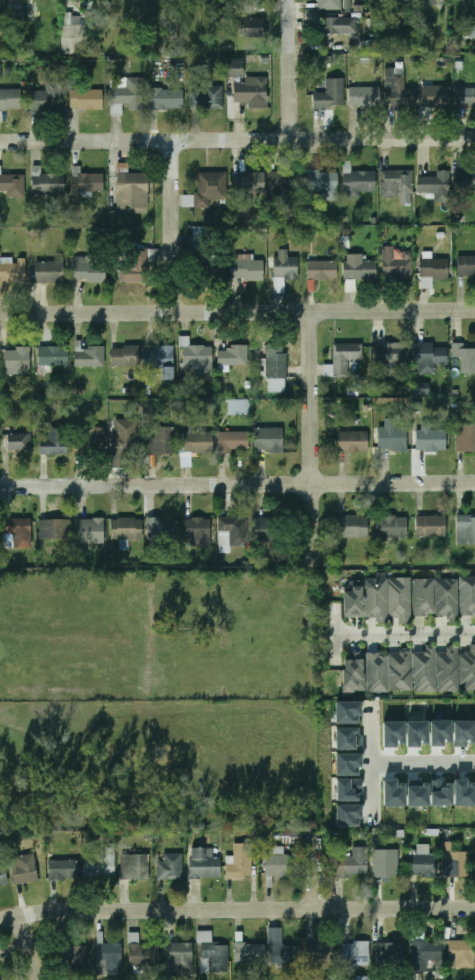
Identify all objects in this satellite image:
building: (431, 2)
building: (329, 4)
building: (15, 5)
building: (245, 6)
building: (1, 25)
building: (338, 25)
building: (253, 27)
building: (469, 31)
building: (73, 36)
building: (392, 41)
building: (362, 47)
road: (292, 66)
building: (235, 69)
building: (127, 91)
building: (252, 91)
building: (400, 91)
building: (331, 94)
building: (437, 95)
building: (365, 96)
building: (466, 96)
building: (48, 97)
building: (210, 98)
building: (10, 99)
building: (87, 99)
building: (166, 99)
road: (237, 133)
building: (465, 180)
building: (358, 181)
building: (250, 182)
building: (286, 182)
building: (47, 183)
building: (89, 183)
building: (323, 183)
building: (397, 183)
building: (432, 184)
building: (13, 185)
building: (212, 189)
building: (131, 190)
road: (174, 225)
building: (201, 235)
building: (136, 264)
building: (208, 265)
building: (396, 265)
building: (466, 265)
building: (286, 266)
building: (248, 267)
building: (360, 269)
building: (322, 270)
building: (432, 271)
building: (49, 272)
building: (89, 272)
building: (12, 273)
building: (350, 285)
road: (237, 314)
building: (390, 353)
building: (233, 355)
building: (429, 355)
building: (53, 356)
building: (90, 356)
building: (126, 356)
building: (345, 357)
building: (197, 358)
building: (276, 359)
building: (161, 360)
building: (18, 361)
building: (465, 361)
building: (421, 388)
building: (239, 407)
road: (314, 438)
building: (393, 438)
building: (469, 438)
building: (91, 440)
building: (125, 440)
building: (269, 440)
building: (432, 440)
building: (163, 441)
building: (18, 442)
building: (55, 442)
building: (199, 442)
building: (233, 442)
building: (353, 442)
road: (237, 486)
building: (431, 525)
building: (353, 526)
building: (392, 526)
building: (127, 529)
building: (466, 529)
building: (55, 530)
building: (163, 530)
building: (266, 530)
building: (89, 531)
building: (199, 531)
building: (233, 532)
building: (19, 533)
building: (447, 596)
building: (468, 596)
building: (376, 597)
building: (400, 597)
building: (424, 597)
building: (354, 601)
road: (336, 635)
road: (405, 636)
building: (448, 669)
building: (469, 669)
building: (377, 671)
building: (401, 671)
building: (424, 671)
building: (354, 673)
building: (440, 732)
building: (393, 733)
building: (463, 733)
road: (426, 768)
building: (393, 793)
building: (417, 793)
building: (440, 793)
building: (464, 793)
building: (240, 862)
building: (454, 862)
building: (204, 863)
building: (279, 863)
building: (354, 863)
building: (423, 863)
building: (387, 864)
building: (135, 867)
building: (100, 868)
building: (171, 868)
building: (24, 870)
building: (64, 870)
road: (316, 873)
building: (2, 877)
road: (236, 912)
road: (32, 949)
building: (142, 952)
building: (320, 953)
building: (356, 953)
building: (250, 954)
building: (286, 954)
building: (392, 954)
building: (424, 954)
building: (462, 954)
building: (212, 955)
building: (180, 956)
building: (72, 957)
building: (109, 958)
building: (0, 978)

